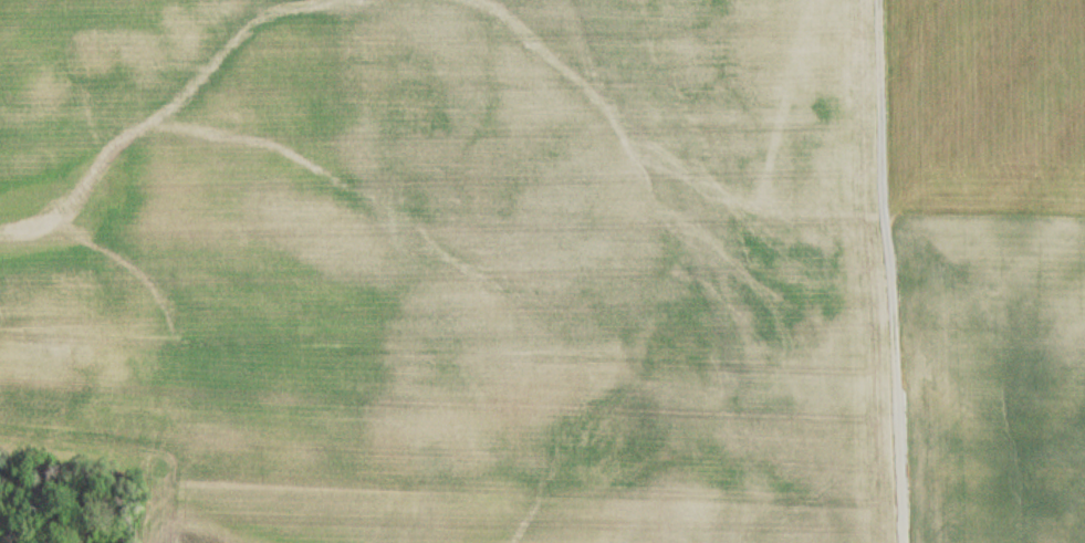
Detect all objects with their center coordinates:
crop: (451, 267)
crop: (987, 380)

